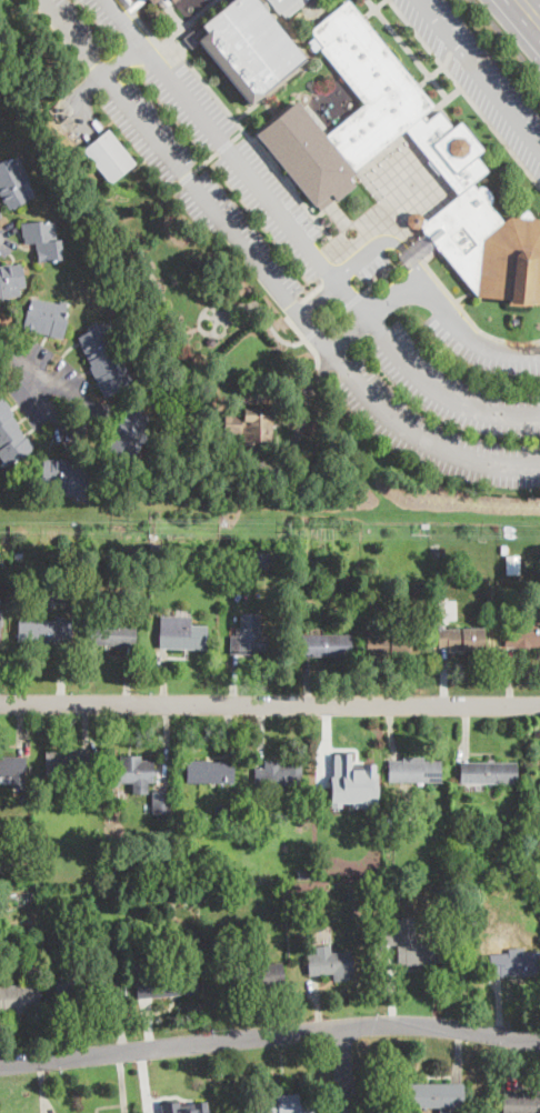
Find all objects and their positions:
building: (171, 0)
building: (173, 0)
building: (151, 1)
building: (287, 6)
road: (528, 14)
parking lot: (73, 28)
road: (147, 31)
road: (506, 38)
building: (248, 47)
road: (120, 57)
road: (480, 73)
parking lot: (479, 76)
parking lot: (87, 100)
parking lot: (218, 139)
building: (324, 153)
building: (109, 157)
building: (13, 182)
parking lot: (196, 184)
road: (301, 238)
road: (384, 238)
building: (43, 240)
building: (417, 250)
parking lot: (372, 262)
road: (264, 272)
building: (10, 279)
road: (317, 297)
road: (449, 311)
building: (46, 318)
building: (211, 342)
parking lot: (480, 349)
building: (104, 361)
road: (31, 374)
parking lot: (441, 412)
building: (251, 428)
building: (128, 435)
building: (11, 437)
building: (67, 475)
power tower: (151, 527)
power tower: (499, 529)
building: (157, 545)
building: (179, 550)
building: (504, 550)
building: (139, 552)
building: (438, 552)
building: (19, 556)
building: (260, 561)
building: (321, 564)
building: (418, 590)
building: (59, 593)
building: (0, 602)
building: (431, 608)
building: (42, 632)
building: (111, 633)
building: (181, 633)
building: (249, 635)
building: (522, 635)
building: (461, 639)
building: (390, 644)
building: (326, 645)
road: (269, 704)
building: (68, 763)
building: (413, 770)
building: (12, 771)
building: (132, 772)
building: (209, 772)
building: (488, 772)
building: (277, 776)
building: (343, 778)
building: (408, 793)
building: (161, 802)
building: (458, 819)
building: (387, 825)
building: (538, 836)
building: (377, 861)
building: (513, 868)
building: (351, 870)
building: (177, 882)
building: (356, 892)
building: (207, 895)
building: (380, 896)
building: (3, 899)
building: (92, 903)
building: (536, 914)
building: (411, 945)
building: (514, 963)
building: (331, 965)
building: (31, 972)
building: (259, 976)
building: (162, 983)
building: (78, 993)
building: (19, 997)
road: (269, 1041)
road: (342, 1073)
building: (436, 1095)
building: (522, 1102)
building: (283, 1105)
building: (180, 1110)

